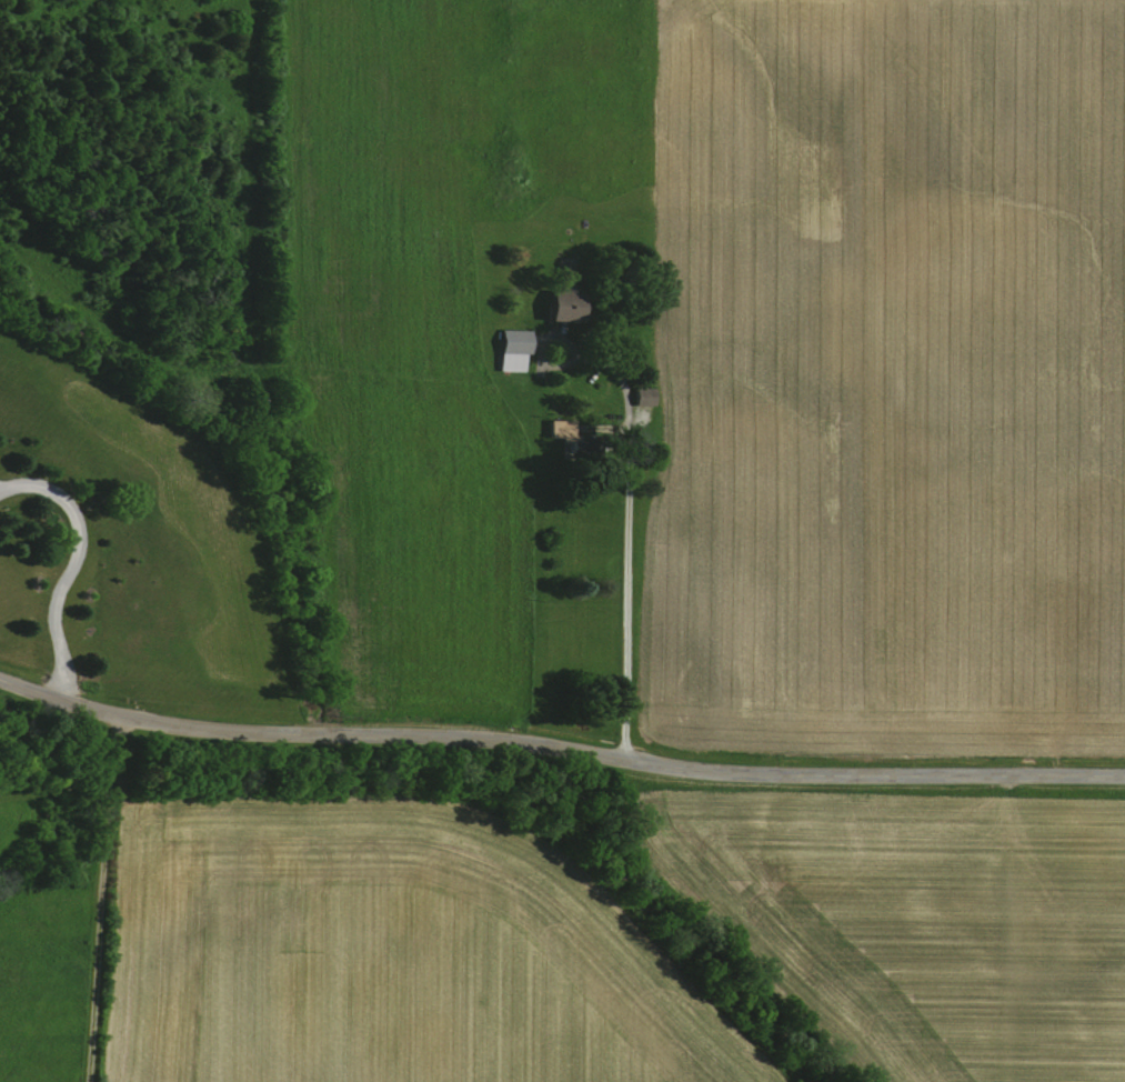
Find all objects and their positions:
building: (511, 350)
building: (642, 397)
road: (626, 543)
road: (69, 564)
road: (560, 748)
road: (100, 898)

